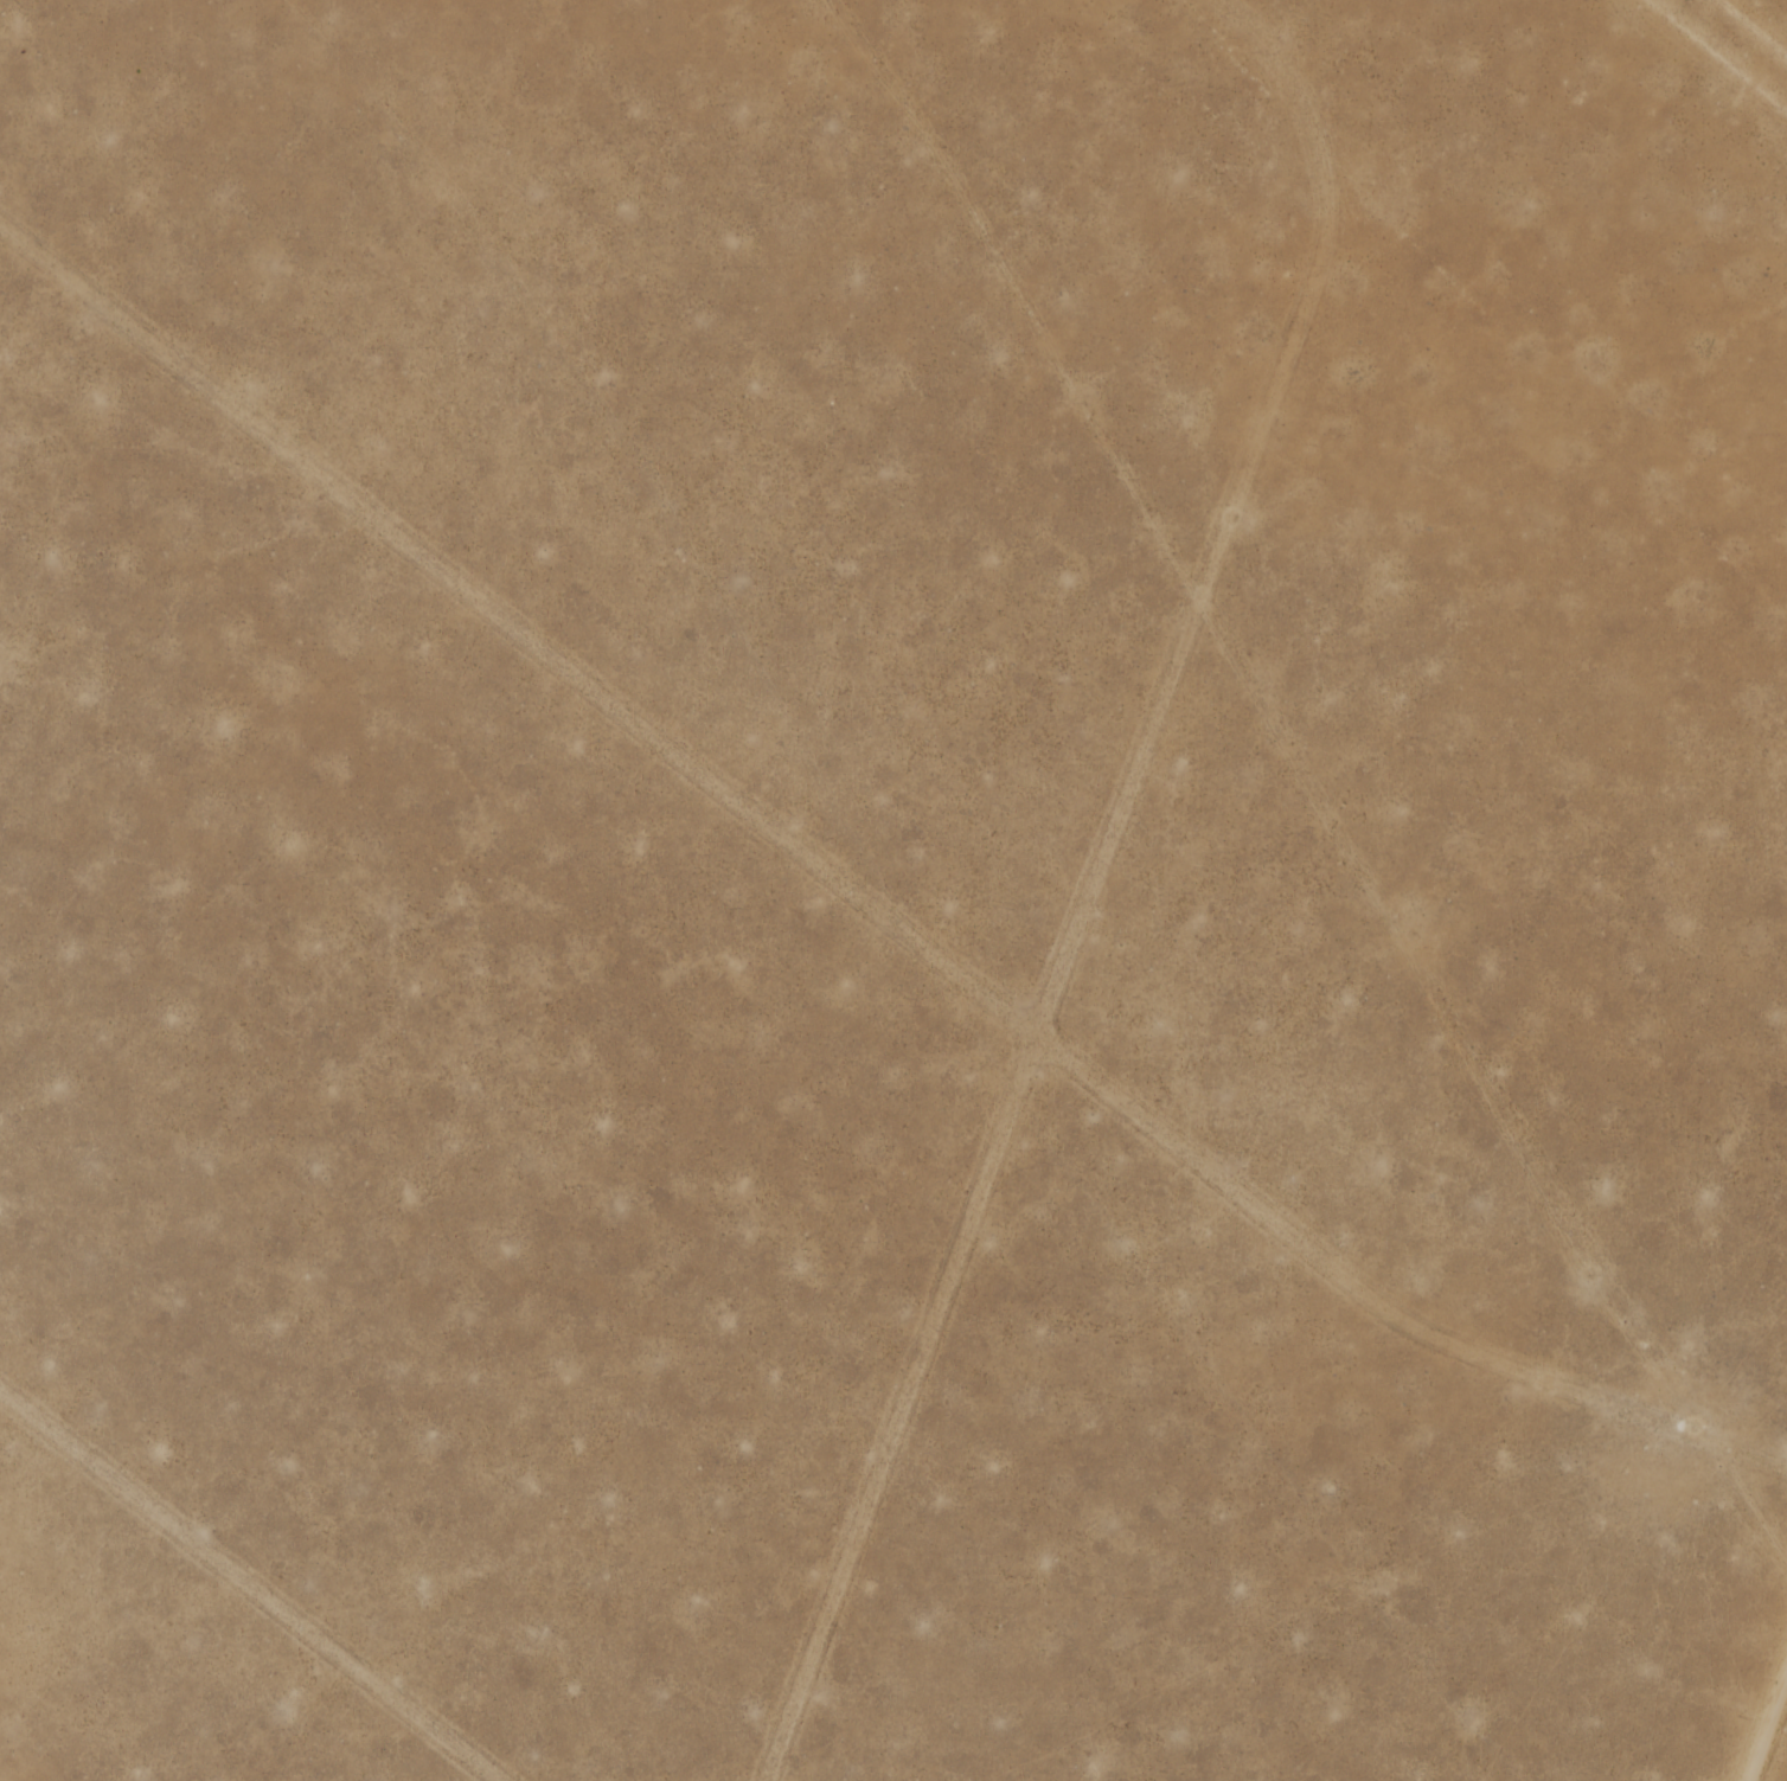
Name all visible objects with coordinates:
road: (1736, 40)
road: (1764, 1721)

